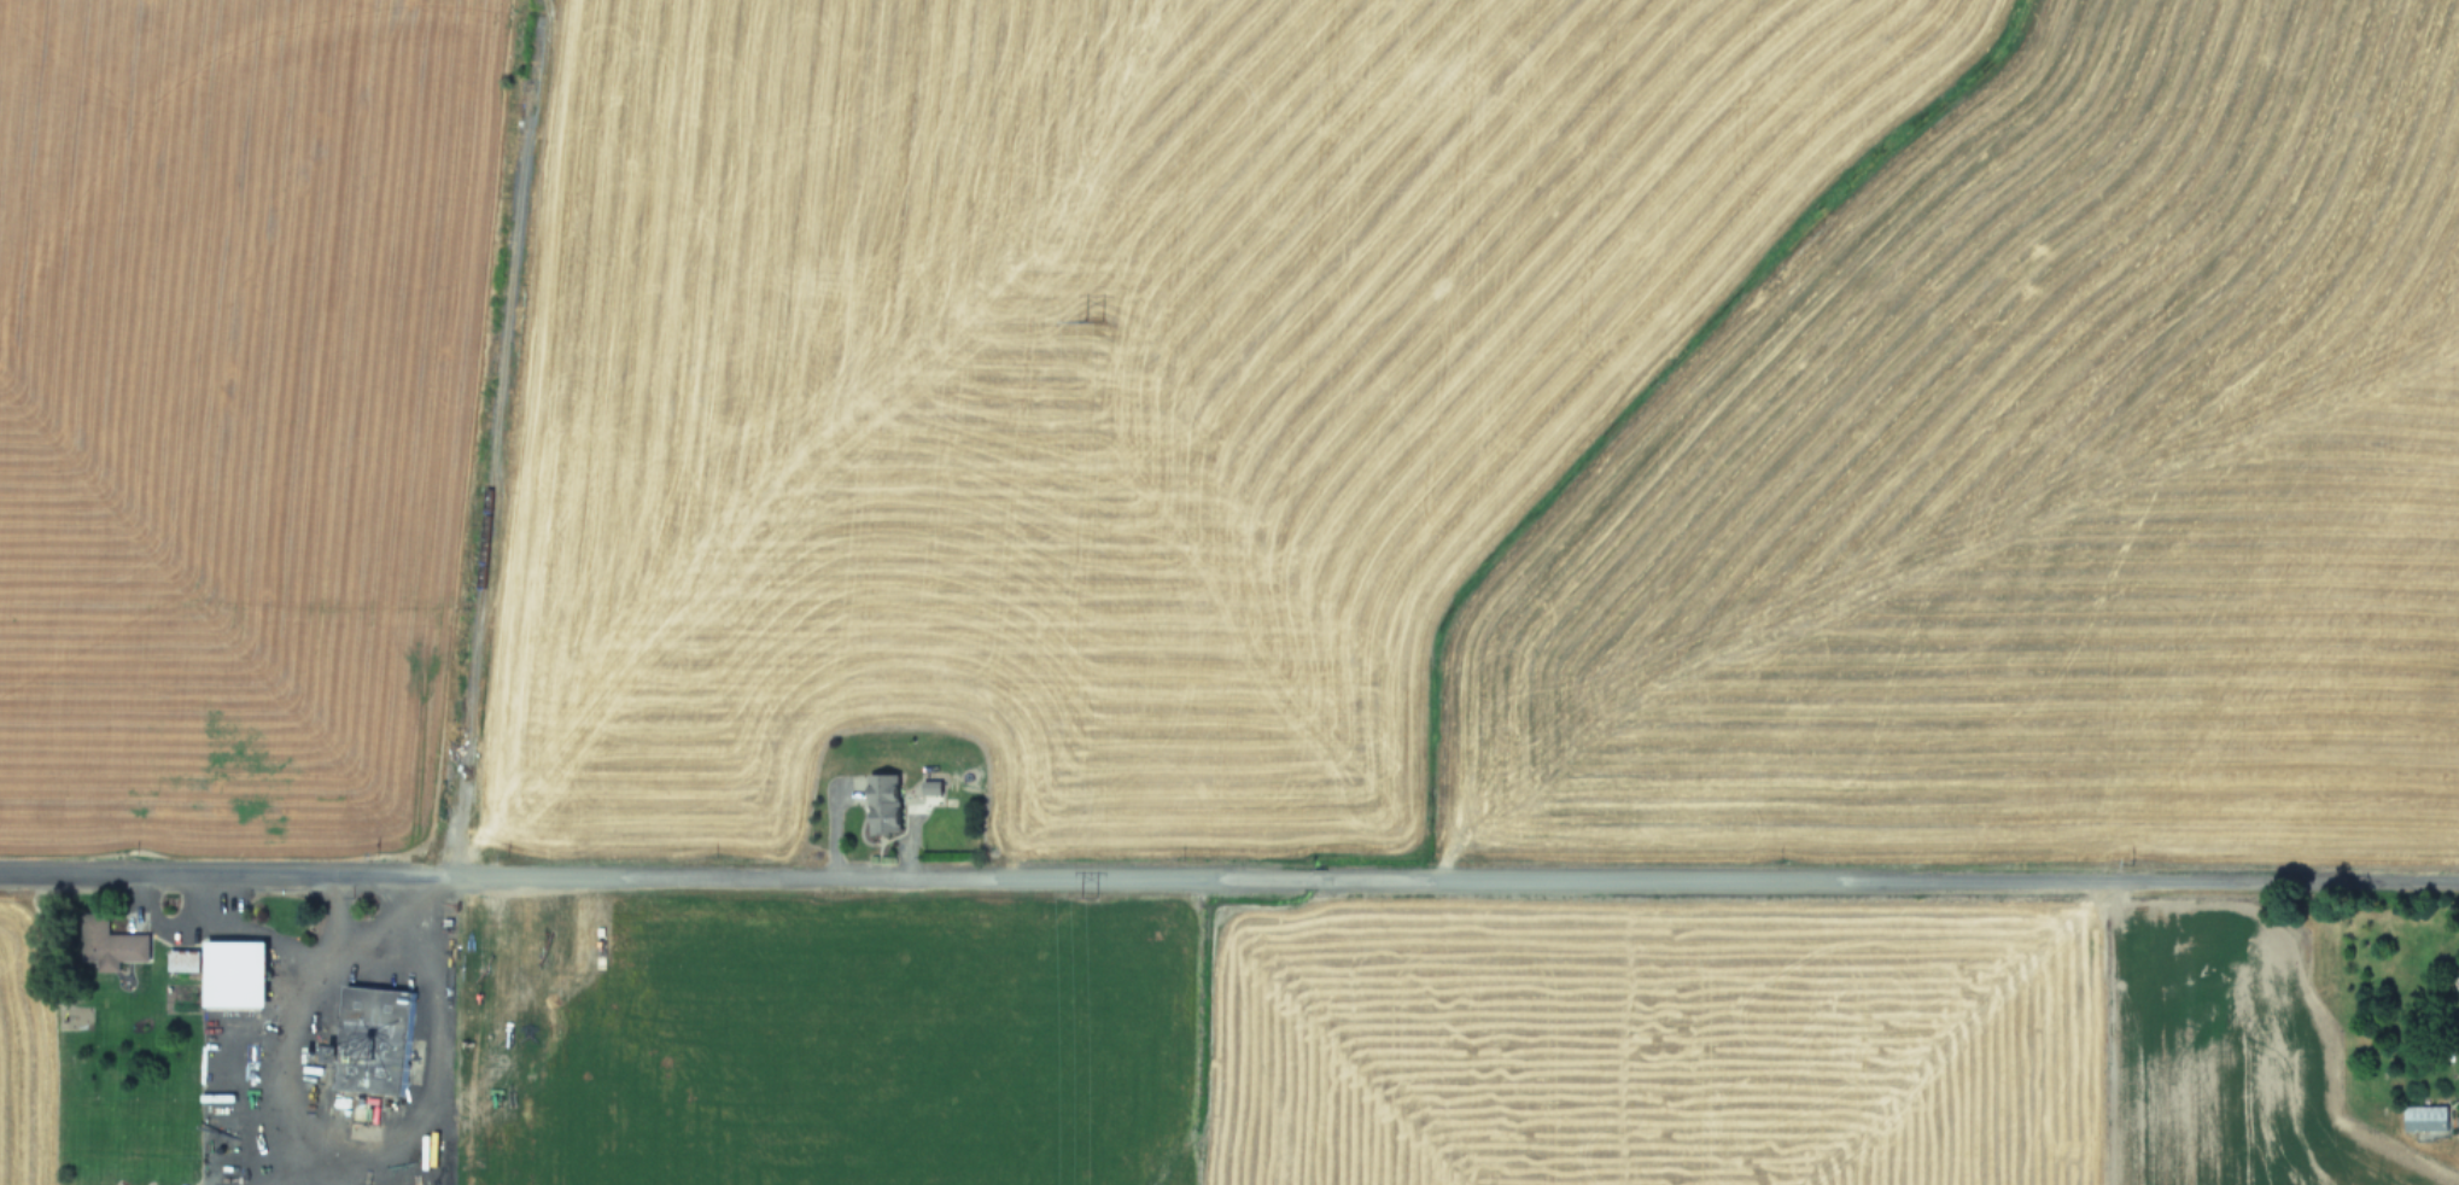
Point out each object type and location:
power tower: (1085, 323)
crop: (1228, 418)
building: (927, 787)
building: (878, 804)
road: (1229, 874)
power tower: (1084, 895)
building: (106, 945)
building: (179, 961)
building: (229, 974)
crop: (1219, 1056)
building: (2422, 1116)
road: (351, 1140)

